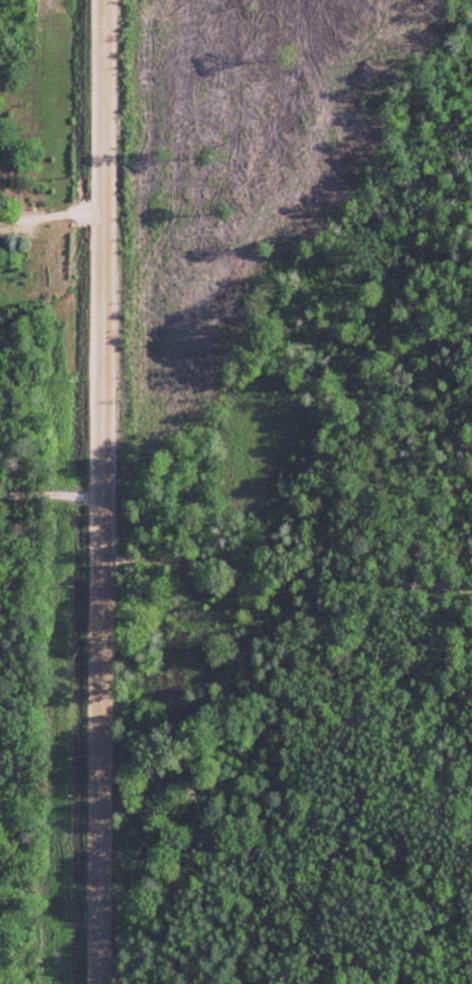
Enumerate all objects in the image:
road: (100, 492)
road: (50, 494)
road: (283, 616)

